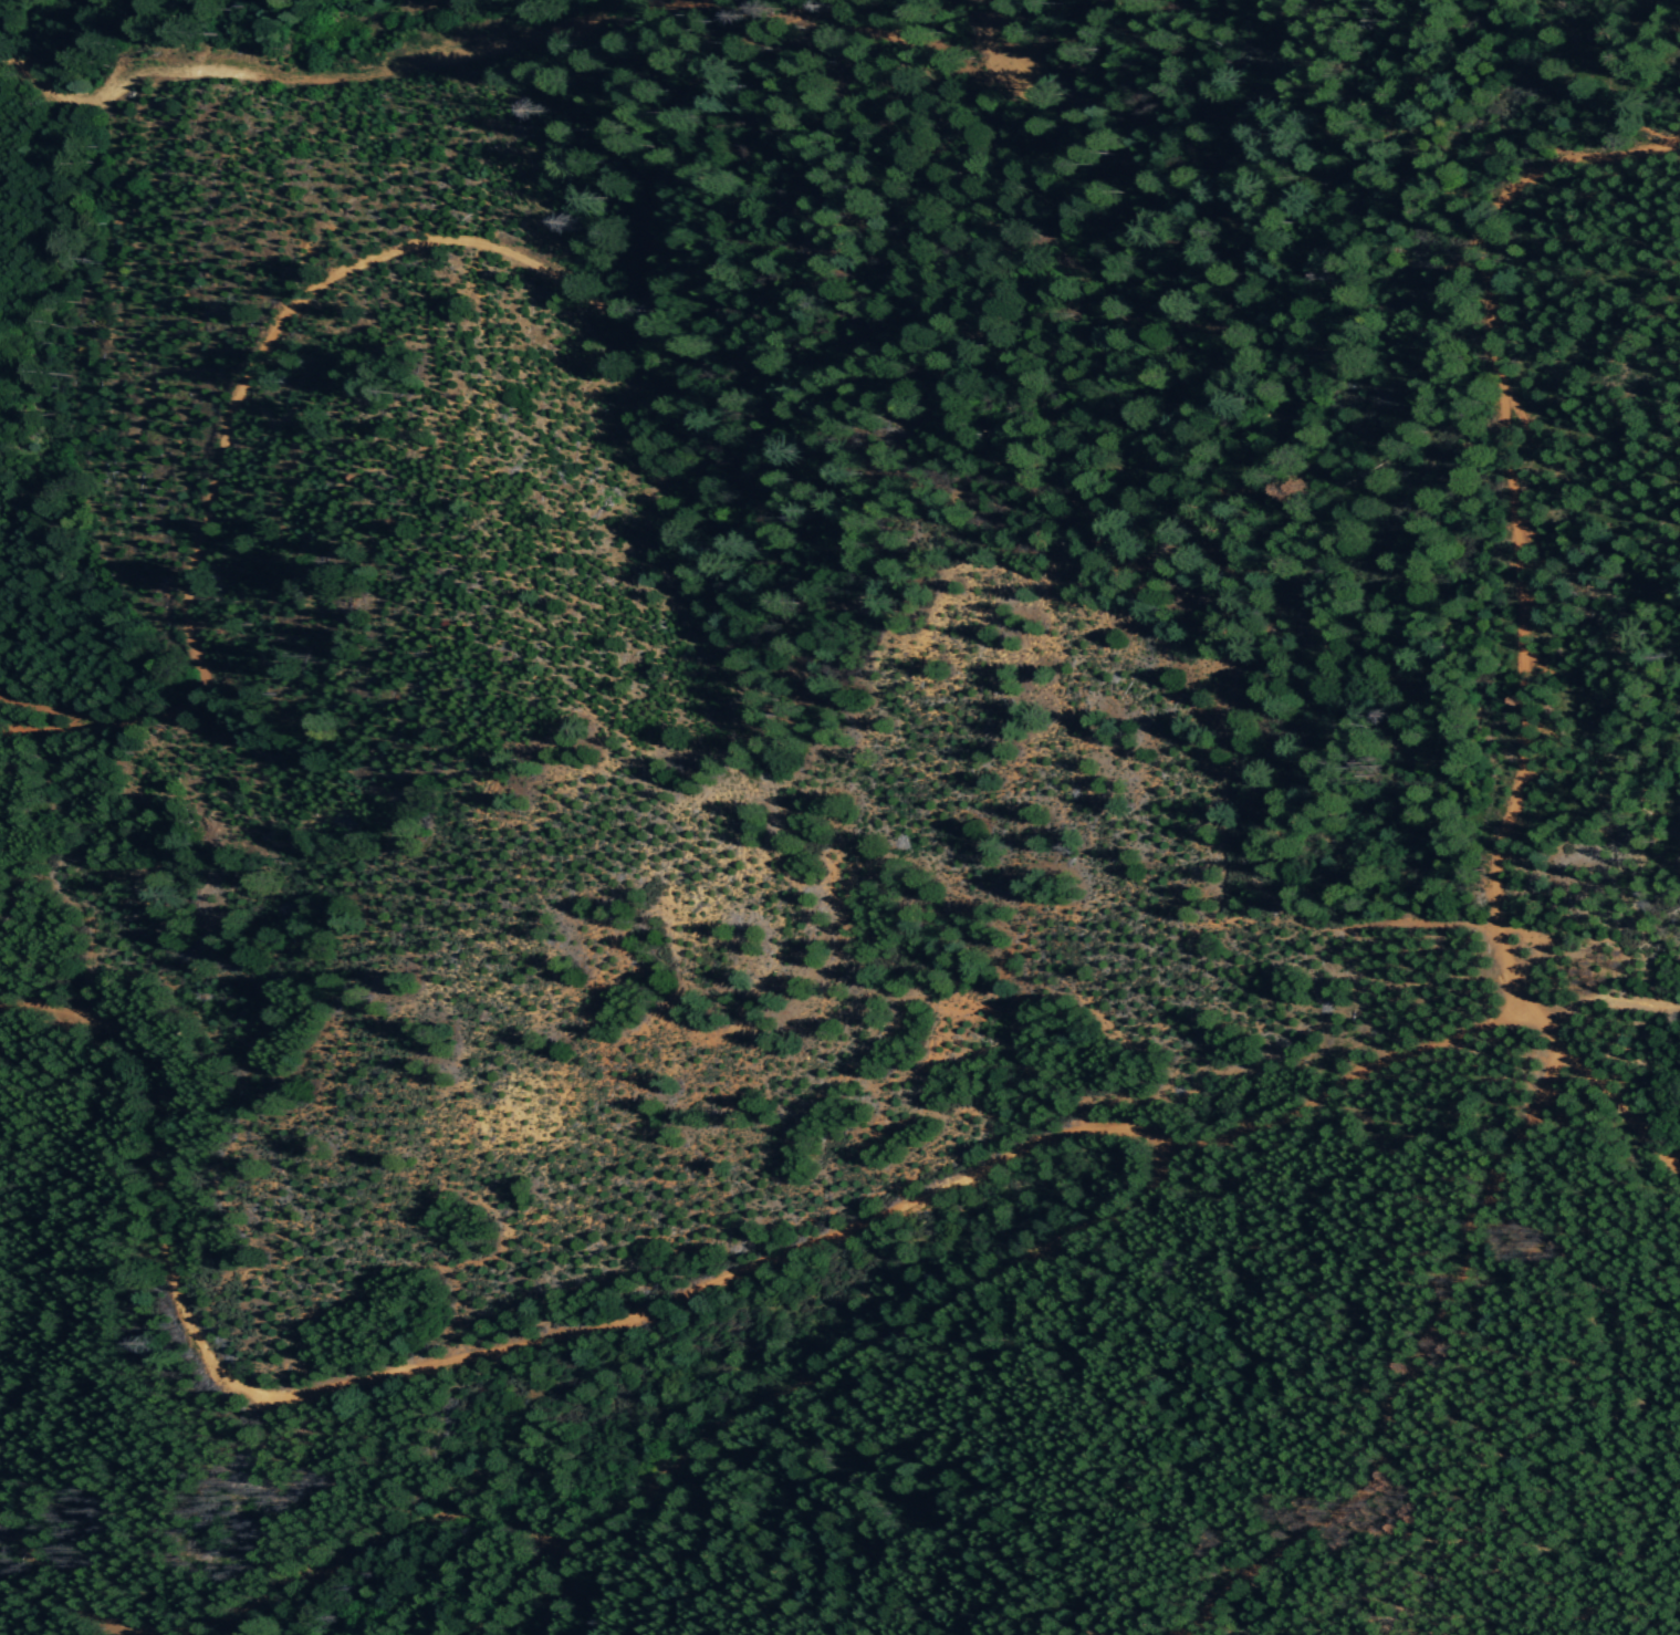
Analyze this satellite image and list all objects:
road: (288, 71)
road: (384, 246)
road: (1510, 508)
road: (1447, 1033)
road: (463, 1351)
road: (1421, 1371)
road: (792, 1375)

